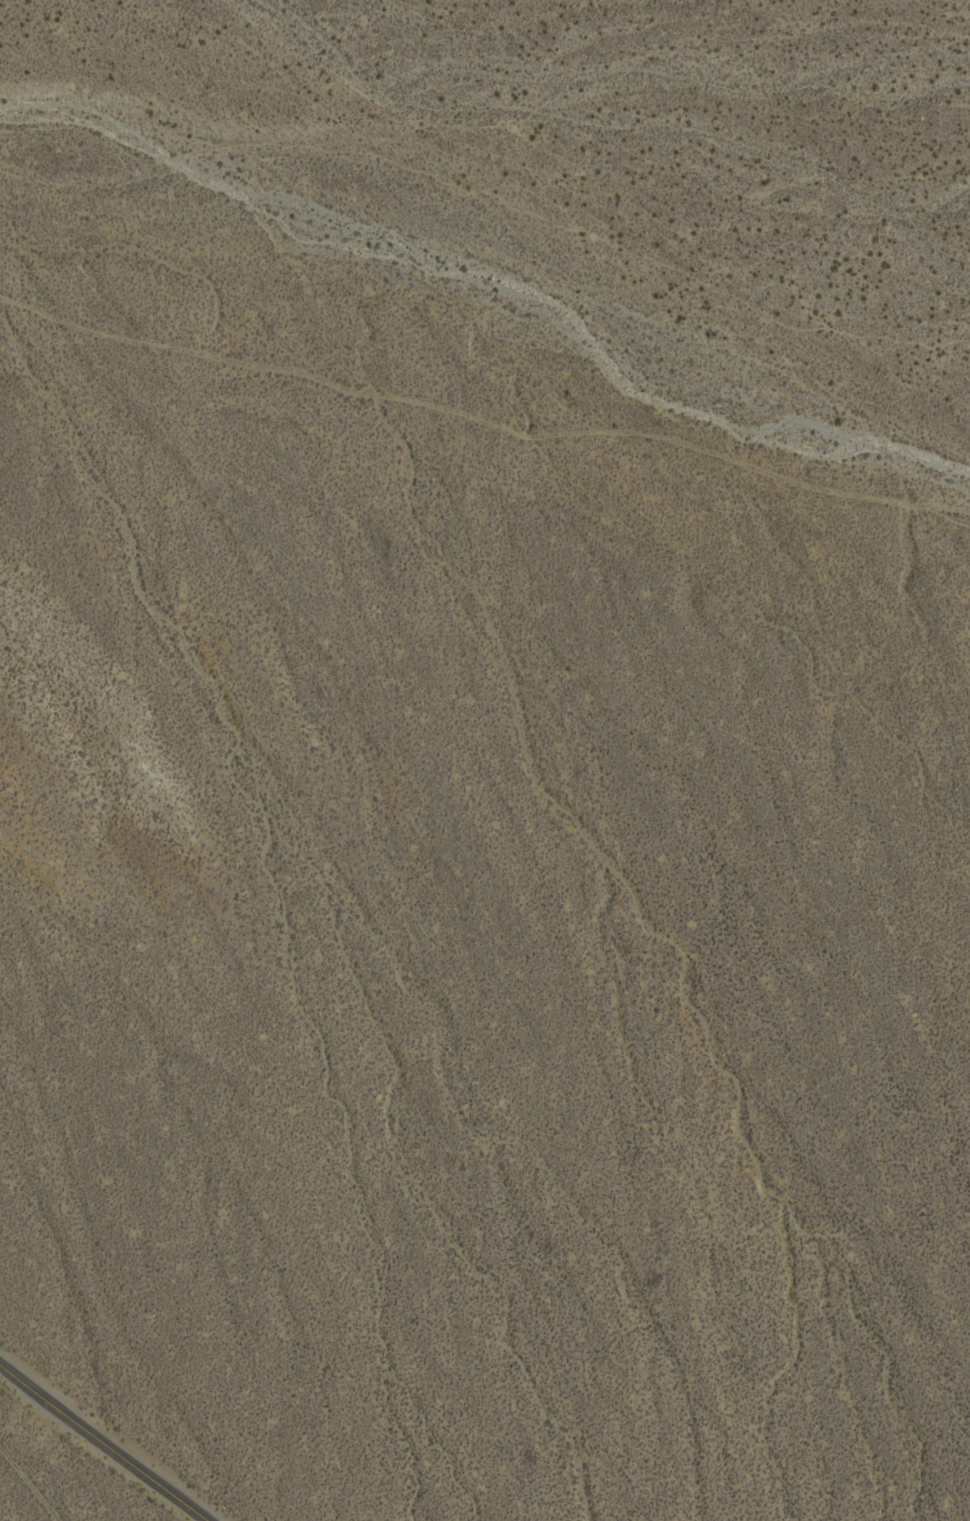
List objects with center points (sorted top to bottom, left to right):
road: (482, 426)
road: (104, 1442)
road: (30, 1482)

